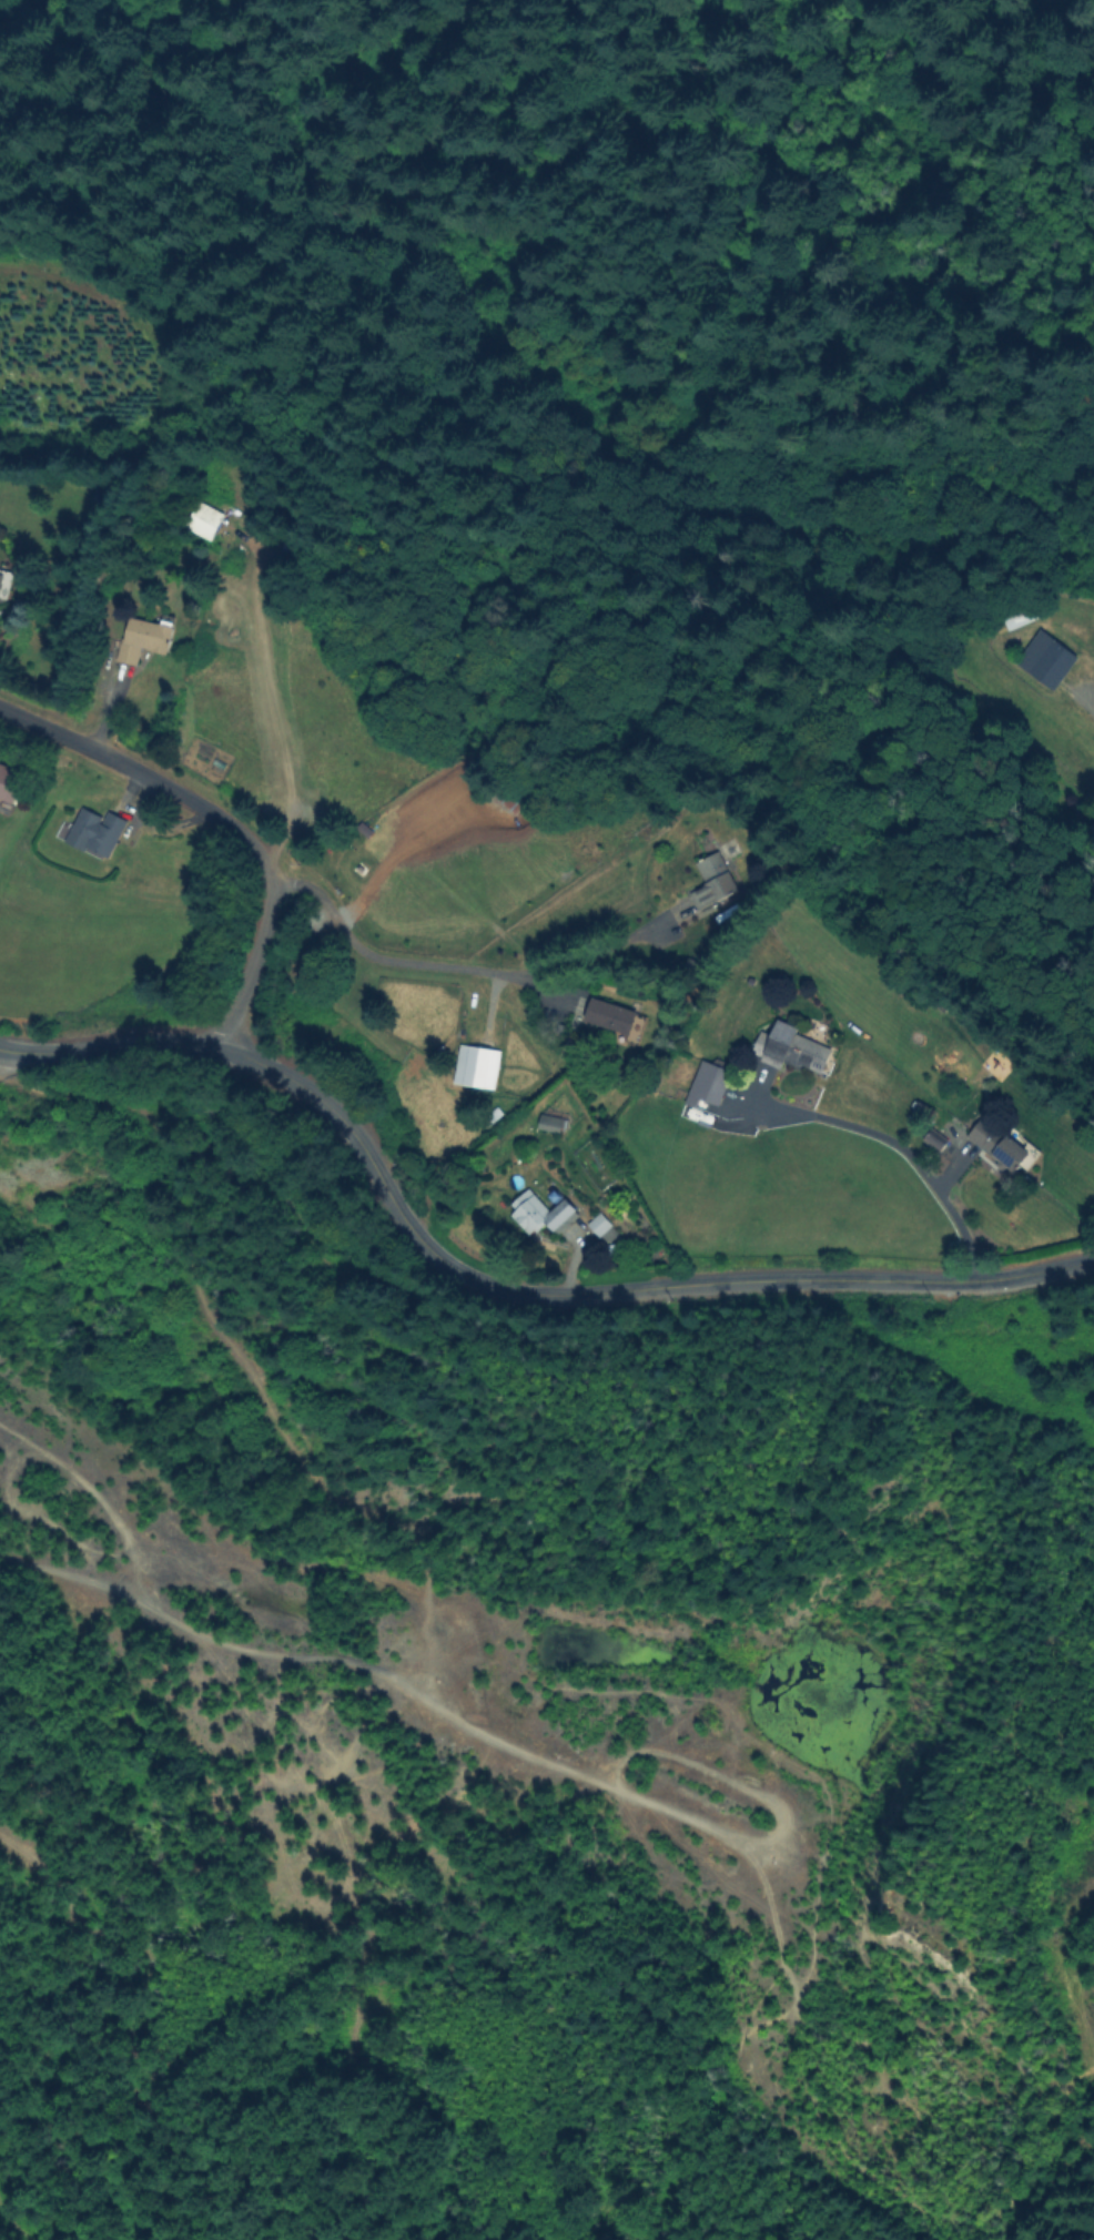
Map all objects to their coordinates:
building: (206, 520)
building: (6, 579)
building: (1021, 614)
building: (146, 638)
building: (1049, 660)
building: (10, 783)
road: (222, 817)
building: (98, 832)
building: (707, 841)
building: (715, 880)
road: (466, 969)
building: (612, 1015)
building: (786, 1047)
building: (479, 1065)
building: (709, 1082)
building: (925, 1108)
building: (494, 1117)
building: (554, 1122)
building: (1001, 1144)
road: (902, 1147)
building: (537, 1214)
building: (597, 1226)
road: (496, 1285)

